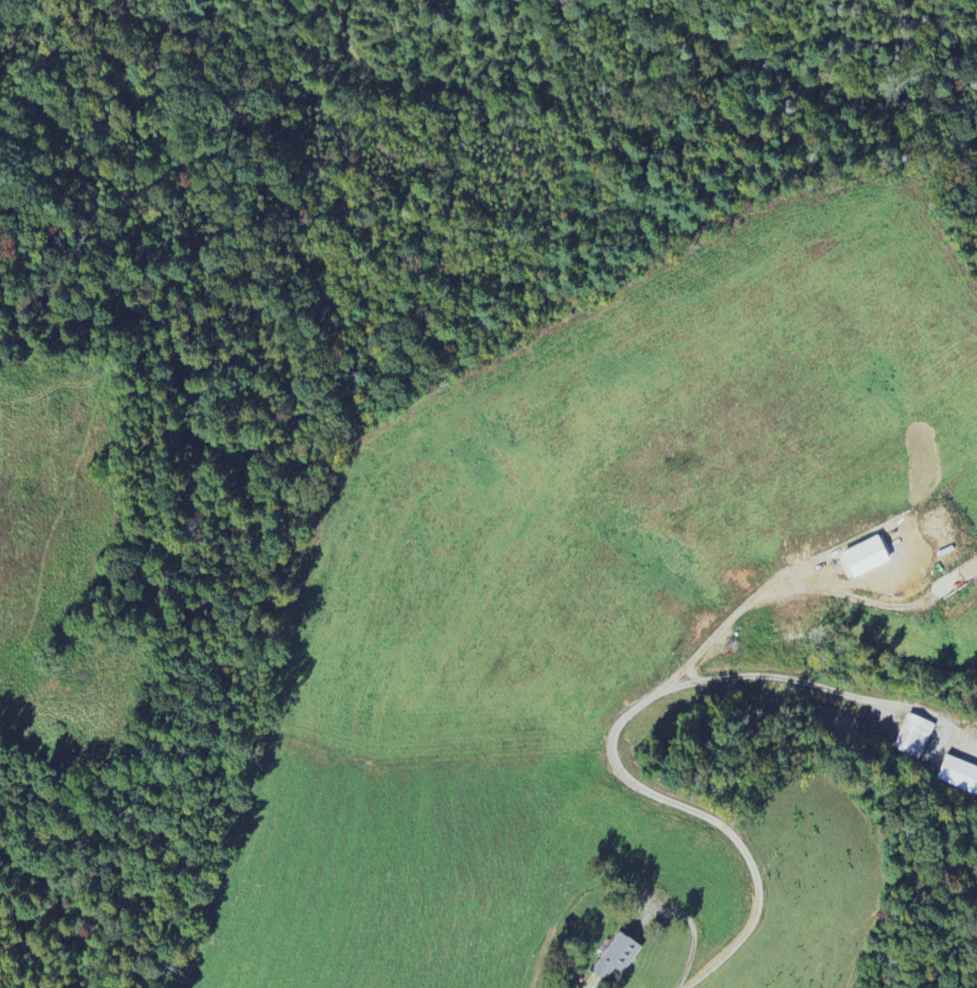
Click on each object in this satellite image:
building: (868, 558)
road: (650, 699)
building: (913, 737)
building: (958, 776)
building: (619, 957)
road: (709, 966)

